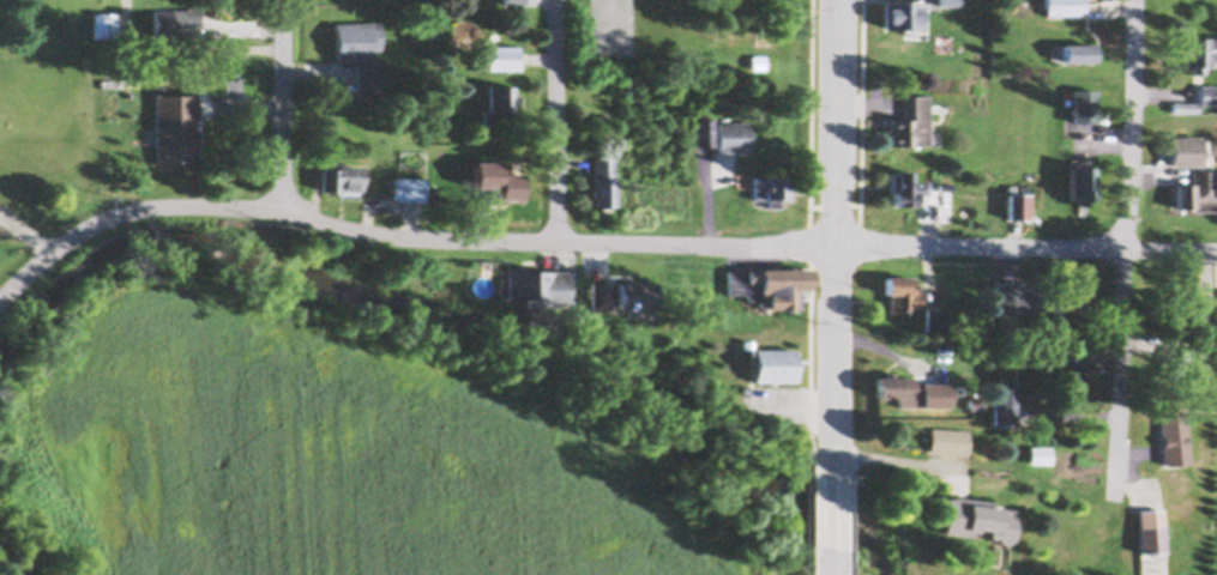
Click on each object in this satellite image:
building: (514, 0)
building: (1062, 4)
building: (903, 12)
building: (176, 19)
building: (104, 20)
building: (609, 26)
park: (692, 35)
building: (1077, 43)
building: (1194, 44)
building: (360, 49)
building: (1073, 53)
building: (502, 55)
building: (758, 60)
building: (116, 62)
building: (626, 87)
building: (1206, 87)
building: (499, 99)
building: (1083, 99)
building: (1182, 102)
road: (283, 107)
road: (559, 120)
building: (912, 122)
building: (173, 123)
park: (42, 125)
building: (703, 129)
building: (734, 135)
building: (1185, 144)
building: (339, 172)
building: (495, 172)
building: (940, 172)
building: (603, 178)
building: (1083, 180)
building: (408, 186)
building: (771, 186)
building: (906, 186)
building: (1197, 186)
building: (1020, 201)
road: (837, 237)
road: (620, 240)
road: (1126, 248)
building: (770, 282)
building: (535, 283)
road: (20, 284)
building: (902, 290)
building: (600, 291)
building: (635, 291)
building: (1073, 296)
building: (1187, 301)
building: (1020, 302)
building: (1216, 311)
building: (935, 317)
building: (746, 340)
building: (1094, 349)
building: (1171, 357)
building: (772, 361)
building: (911, 388)
building: (1005, 402)
building: (1173, 435)
building: (948, 440)
road: (833, 510)
building: (976, 515)
building: (1149, 525)
road: (835, 561)

